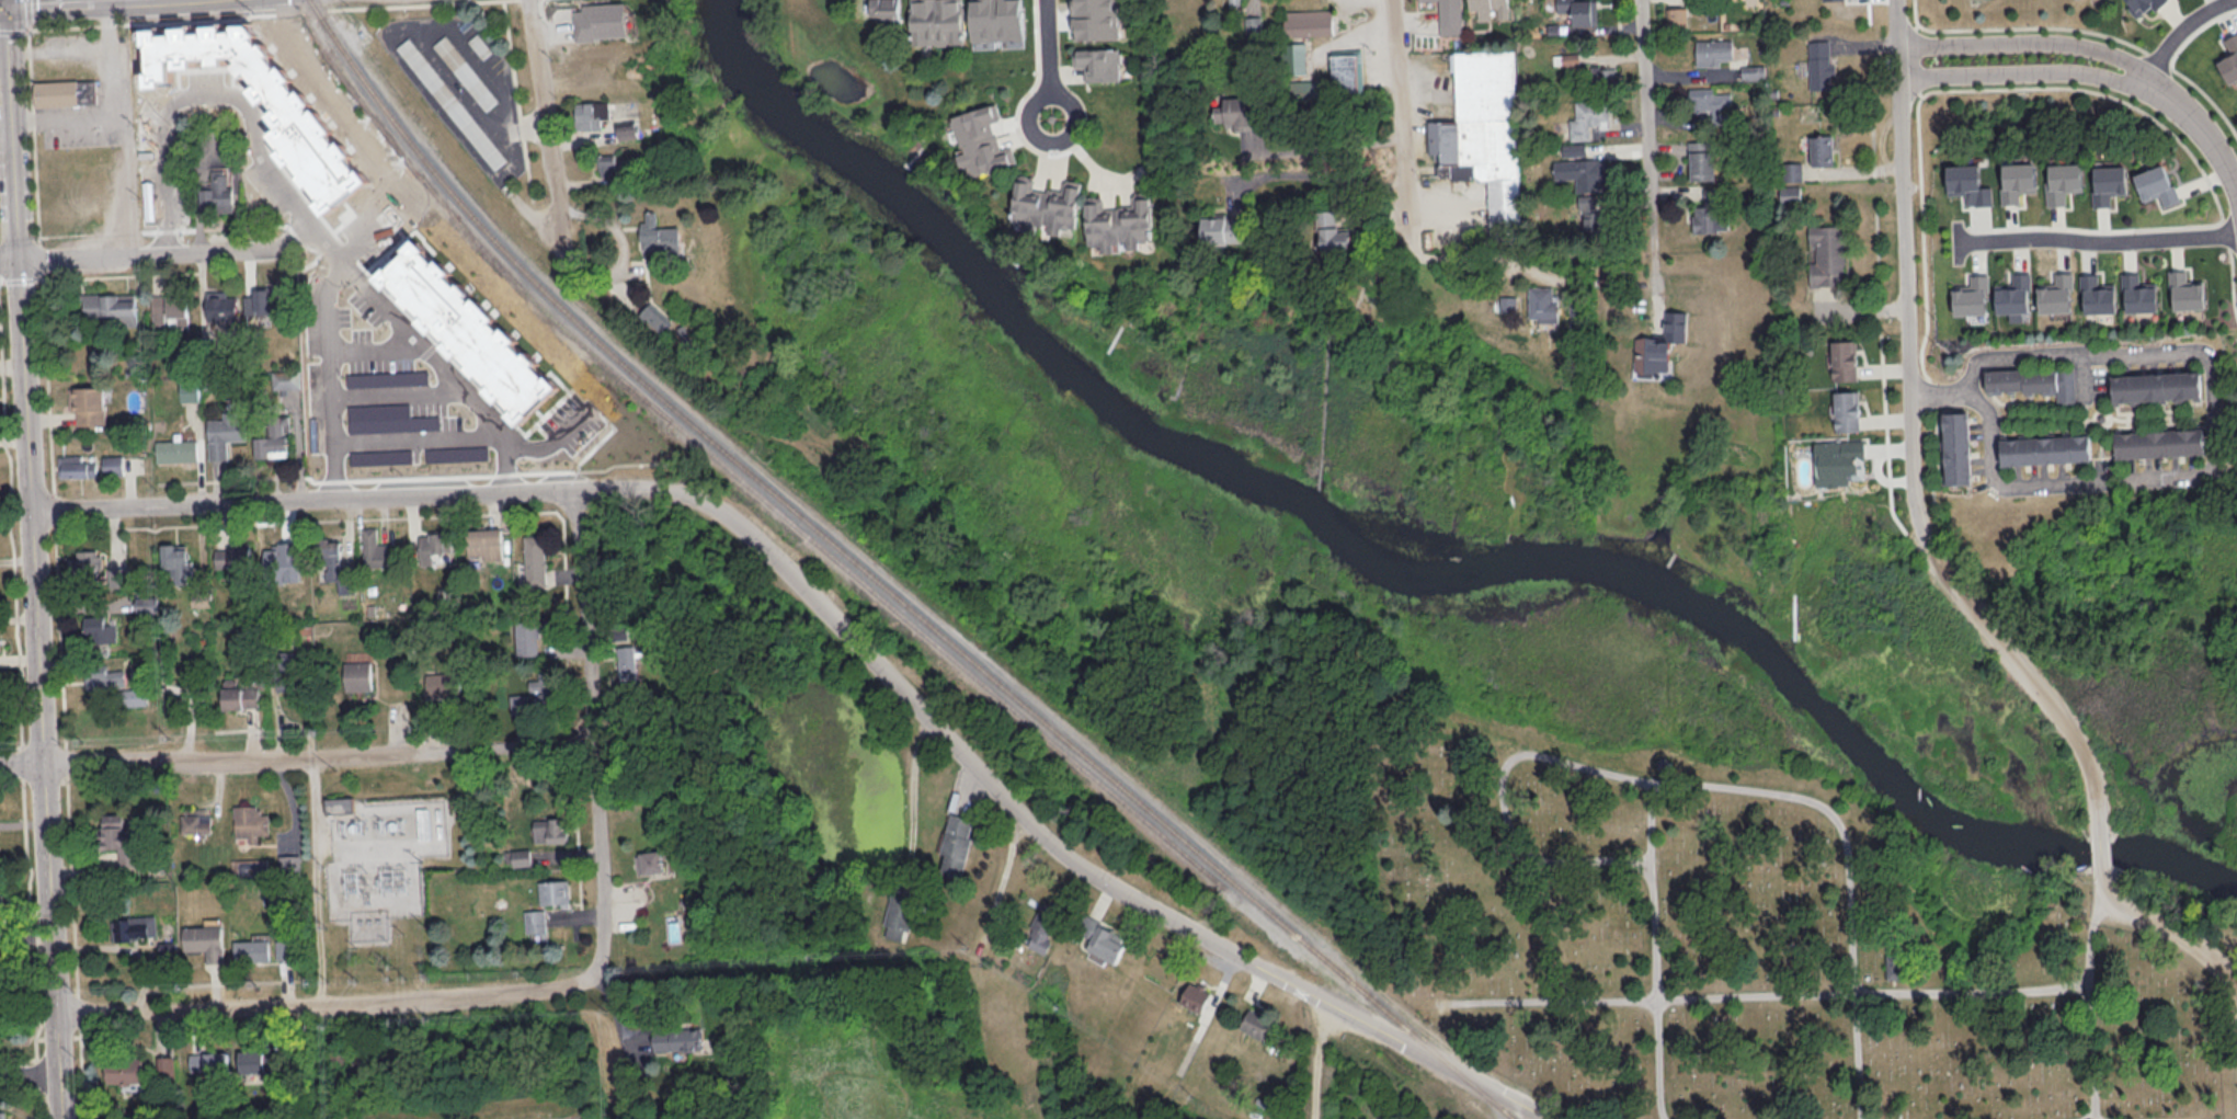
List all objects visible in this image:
road: (115, 1)
road: (8, 3)
road: (76, 3)
building: (2143, 5)
road: (4, 8)
traffic signals: (9, 8)
building: (1490, 8)
building: (883, 10)
building: (1578, 11)
road: (27, 14)
building: (1678, 14)
building: (1447, 15)
building: (1093, 19)
building: (601, 20)
building: (996, 20)
building: (938, 21)
building: (1306, 22)
road: (2180, 32)
road: (422, 44)
road: (58, 49)
road: (2031, 49)
building: (1712, 50)
building: (1296, 57)
road: (1047, 58)
building: (1570, 58)
building: (2229, 58)
building: (1098, 62)
building: (1818, 64)
building: (1347, 69)
building: (465, 71)
building: (1601, 71)
building: (1753, 71)
road: (2027, 75)
building: (62, 90)
building: (1711, 101)
building: (452, 102)
road: (107, 103)
building: (592, 113)
road: (1405, 113)
building: (296, 117)
building: (1587, 118)
road: (546, 119)
road: (1653, 122)
road: (2202, 126)
building: (628, 128)
building: (1483, 132)
building: (981, 140)
road: (1329, 148)
building: (1573, 148)
building: (1822, 148)
road: (212, 151)
building: (1702, 159)
building: (605, 163)
building: (1796, 170)
building: (1583, 172)
road: (124, 179)
road: (1332, 180)
building: (2017, 180)
building: (2062, 181)
building: (2107, 182)
building: (1968, 184)
building: (2155, 184)
road: (279, 186)
building: (216, 191)
building: (1790, 192)
building: (1046, 205)
building: (1588, 209)
building: (1709, 217)
building: (1119, 221)
building: (1222, 227)
building: (1333, 231)
building: (658, 235)
road: (2099, 241)
road: (167, 252)
road: (1461, 253)
building: (1827, 254)
road: (9, 261)
building: (2184, 290)
building: (2054, 293)
building: (2137, 293)
building: (2096, 294)
building: (1971, 295)
building: (2012, 296)
building: (1507, 302)
building: (264, 304)
building: (1541, 304)
building: (220, 305)
building: (107, 307)
building: (169, 310)
road: (1908, 312)
building: (654, 316)
building: (468, 329)
railway: (493, 340)
building: (1659, 342)
road: (327, 351)
road: (2204, 351)
building: (1844, 359)
building: (285, 377)
building: (387, 377)
building: (2033, 381)
building: (2156, 386)
building: (189, 388)
road: (1938, 391)
building: (88, 403)
building: (1847, 410)
building: (387, 418)
building: (225, 433)
road: (419, 435)
building: (273, 441)
building: (2159, 442)
building: (1958, 447)
building: (2045, 448)
building: (176, 449)
building: (476, 452)
building: (380, 456)
building: (1839, 461)
building: (112, 464)
building: (75, 466)
road: (294, 496)
railway: (808, 535)
building: (484, 543)
building: (432, 545)
building: (373, 546)
building: (233, 556)
building: (178, 558)
building: (284, 560)
building: (535, 560)
building: (84, 562)
road: (33, 563)
river: (1414, 570)
railway: (881, 584)
building: (147, 603)
building: (95, 627)
building: (527, 636)
building: (626, 661)
building: (112, 683)
building: (438, 683)
building: (536, 693)
building: (241, 696)
road: (2054, 710)
road: (592, 734)
road: (319, 756)
road: (22, 762)
road: (988, 781)
road: (1710, 787)
building: (339, 803)
building: (195, 820)
building: (250, 821)
road: (322, 823)
building: (550, 829)
building: (118, 833)
building: (955, 844)
road: (2100, 849)
building: (522, 856)
power substation: (379, 859)
building: (652, 860)
building: (288, 864)
road: (1004, 867)
road: (315, 881)
building: (553, 891)
park: (1723, 902)
road: (2116, 902)
building: (898, 915)
building: (536, 923)
building: (136, 926)
building: (1041, 927)
building: (1102, 938)
building: (205, 939)
building: (168, 948)
road: (2201, 949)
building: (252, 950)
road: (1655, 950)
building: (1895, 970)
building: (1195, 996)
road: (1768, 996)
road: (320, 1005)
road: (2092, 1005)
building: (1254, 1024)
building: (676, 1038)
road: (1323, 1060)
building: (207, 1061)
building: (254, 1063)
building: (168, 1064)
building: (124, 1070)
road: (30, 1073)
road: (1499, 1095)
building: (2, 1115)

